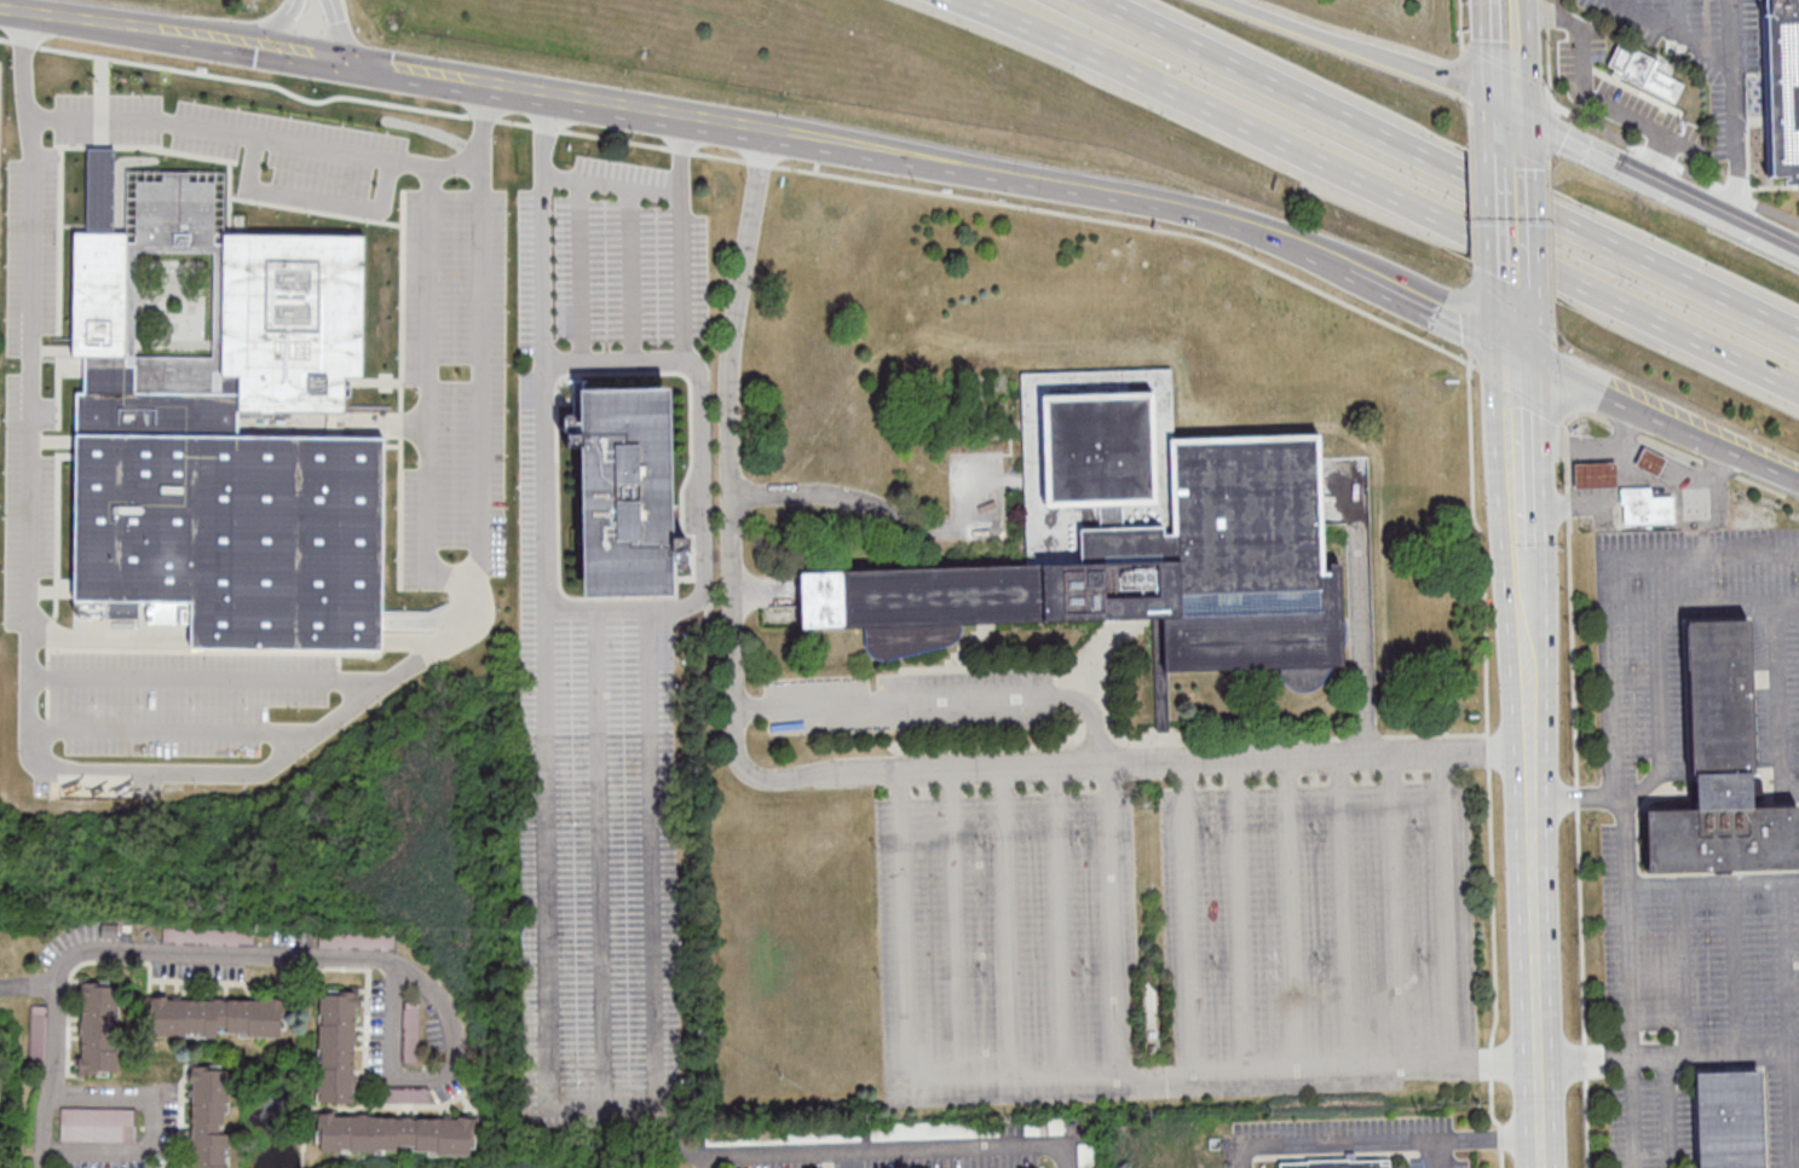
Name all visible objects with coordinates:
road: (1624, 2)
road: (1507, 7)
road: (1677, 17)
road: (283, 29)
road: (1674, 33)
road: (133, 36)
road: (339, 36)
road: (1365, 51)
road: (1510, 57)
traffic signals: (266, 59)
road: (307, 65)
building: (1633, 65)
traffic signals: (350, 73)
road: (1585, 79)
road: (403, 80)
building: (1782, 89)
traffic signals: (1511, 99)
road: (1737, 106)
road: (612, 109)
road: (1511, 128)
road: (1575, 134)
road: (267, 149)
road: (115, 150)
road: (1657, 151)
parking lot: (260, 157)
road: (1449, 166)
road: (612, 181)
road: (1674, 181)
road: (1060, 186)
road: (1377, 191)
road: (327, 213)
road: (1752, 219)
road: (1513, 233)
road: (1430, 307)
road: (1515, 330)
traffic signals: (1516, 351)
road: (616, 360)
parking lot: (468, 403)
parking lot: (48, 409)
road: (443, 409)
road: (1656, 417)
building: (567, 420)
road: (1520, 443)
building: (241, 455)
building: (1651, 463)
building: (1597, 478)
road: (883, 508)
building: (1647, 508)
building: (635, 539)
building: (1135, 540)
road: (1603, 579)
road: (1701, 606)
road: (1361, 615)
parking lot: (607, 624)
road: (1528, 641)
road: (214, 693)
road: (941, 696)
road: (1777, 705)
road: (1661, 721)
road: (184, 745)
road: (1488, 759)
building: (1720, 769)
road: (1533, 773)
road: (818, 777)
road: (186, 784)
road: (1572, 796)
road: (1578, 797)
road: (1713, 884)
road: (1447, 907)
road: (1186, 915)
road: (1112, 918)
road: (1059, 919)
road: (1005, 920)
road: (957, 923)
parking lot: (1176, 941)
road: (121, 952)
road: (1737, 968)
road: (1682, 971)
road: (1536, 982)
road: (1631, 982)
road: (27, 985)
building: (1152, 994)
building: (217, 1016)
road: (1791, 1024)
building: (98, 1028)
building: (336, 1046)
road: (1668, 1057)
road: (1077, 1071)
road: (433, 1074)
road: (618, 1103)
road: (1668, 1112)
building: (209, 1116)
building: (1730, 1118)
building: (98, 1124)
building: (1056, 1124)
road: (152, 1127)
building: (1031, 1128)
building: (396, 1134)
road: (1493, 1137)
road: (1350, 1141)
road: (894, 1150)
building: (1338, 1163)

